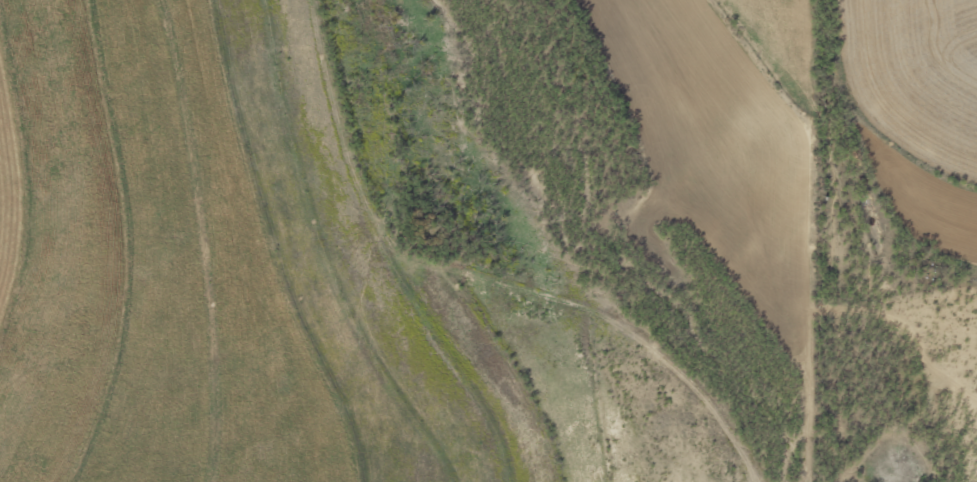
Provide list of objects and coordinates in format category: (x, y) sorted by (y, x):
road: (897, 122)

